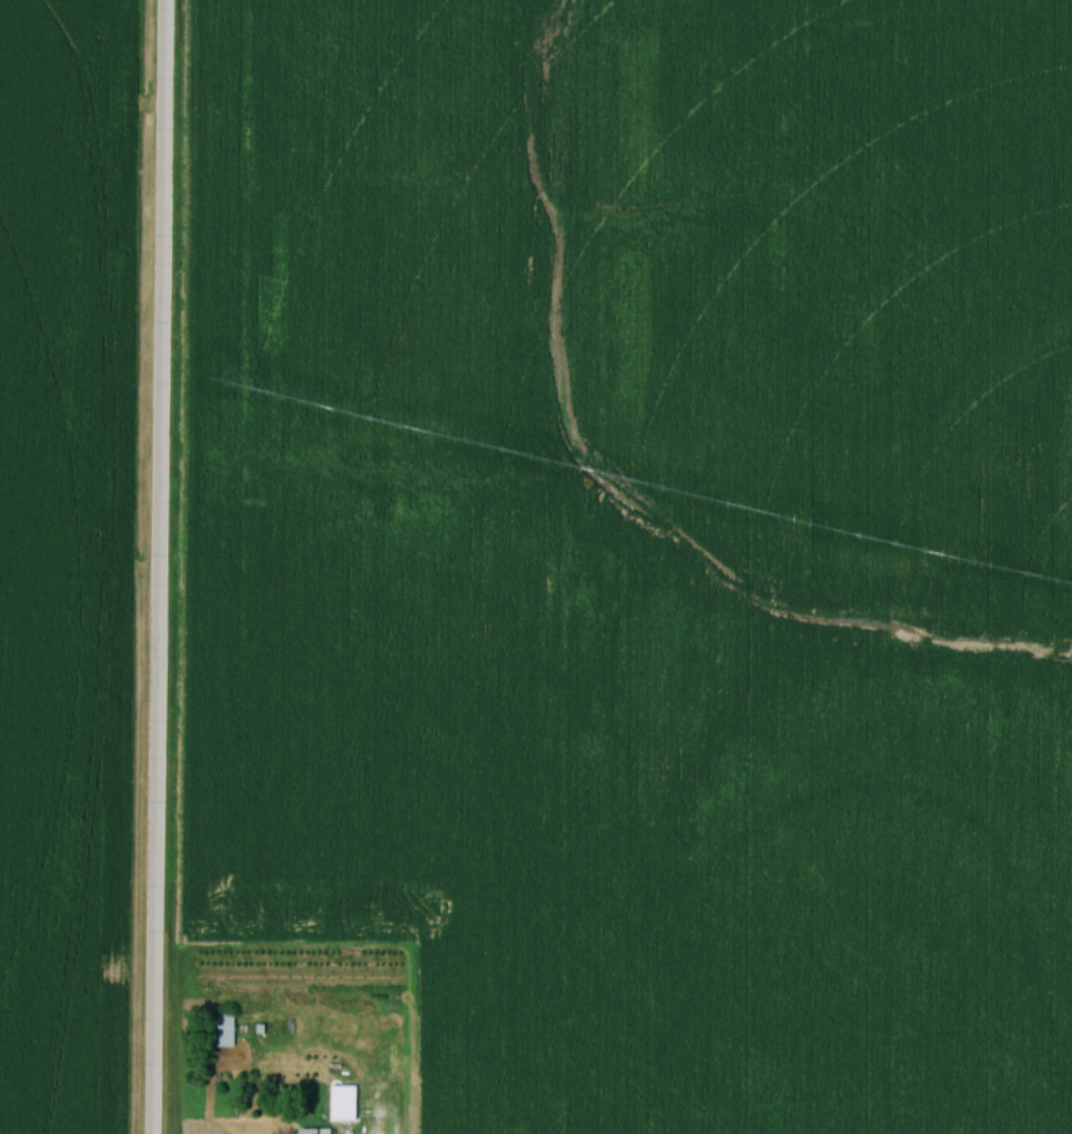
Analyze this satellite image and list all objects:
road: (156, 566)
building: (229, 1028)
building: (349, 1104)
building: (319, 1132)

